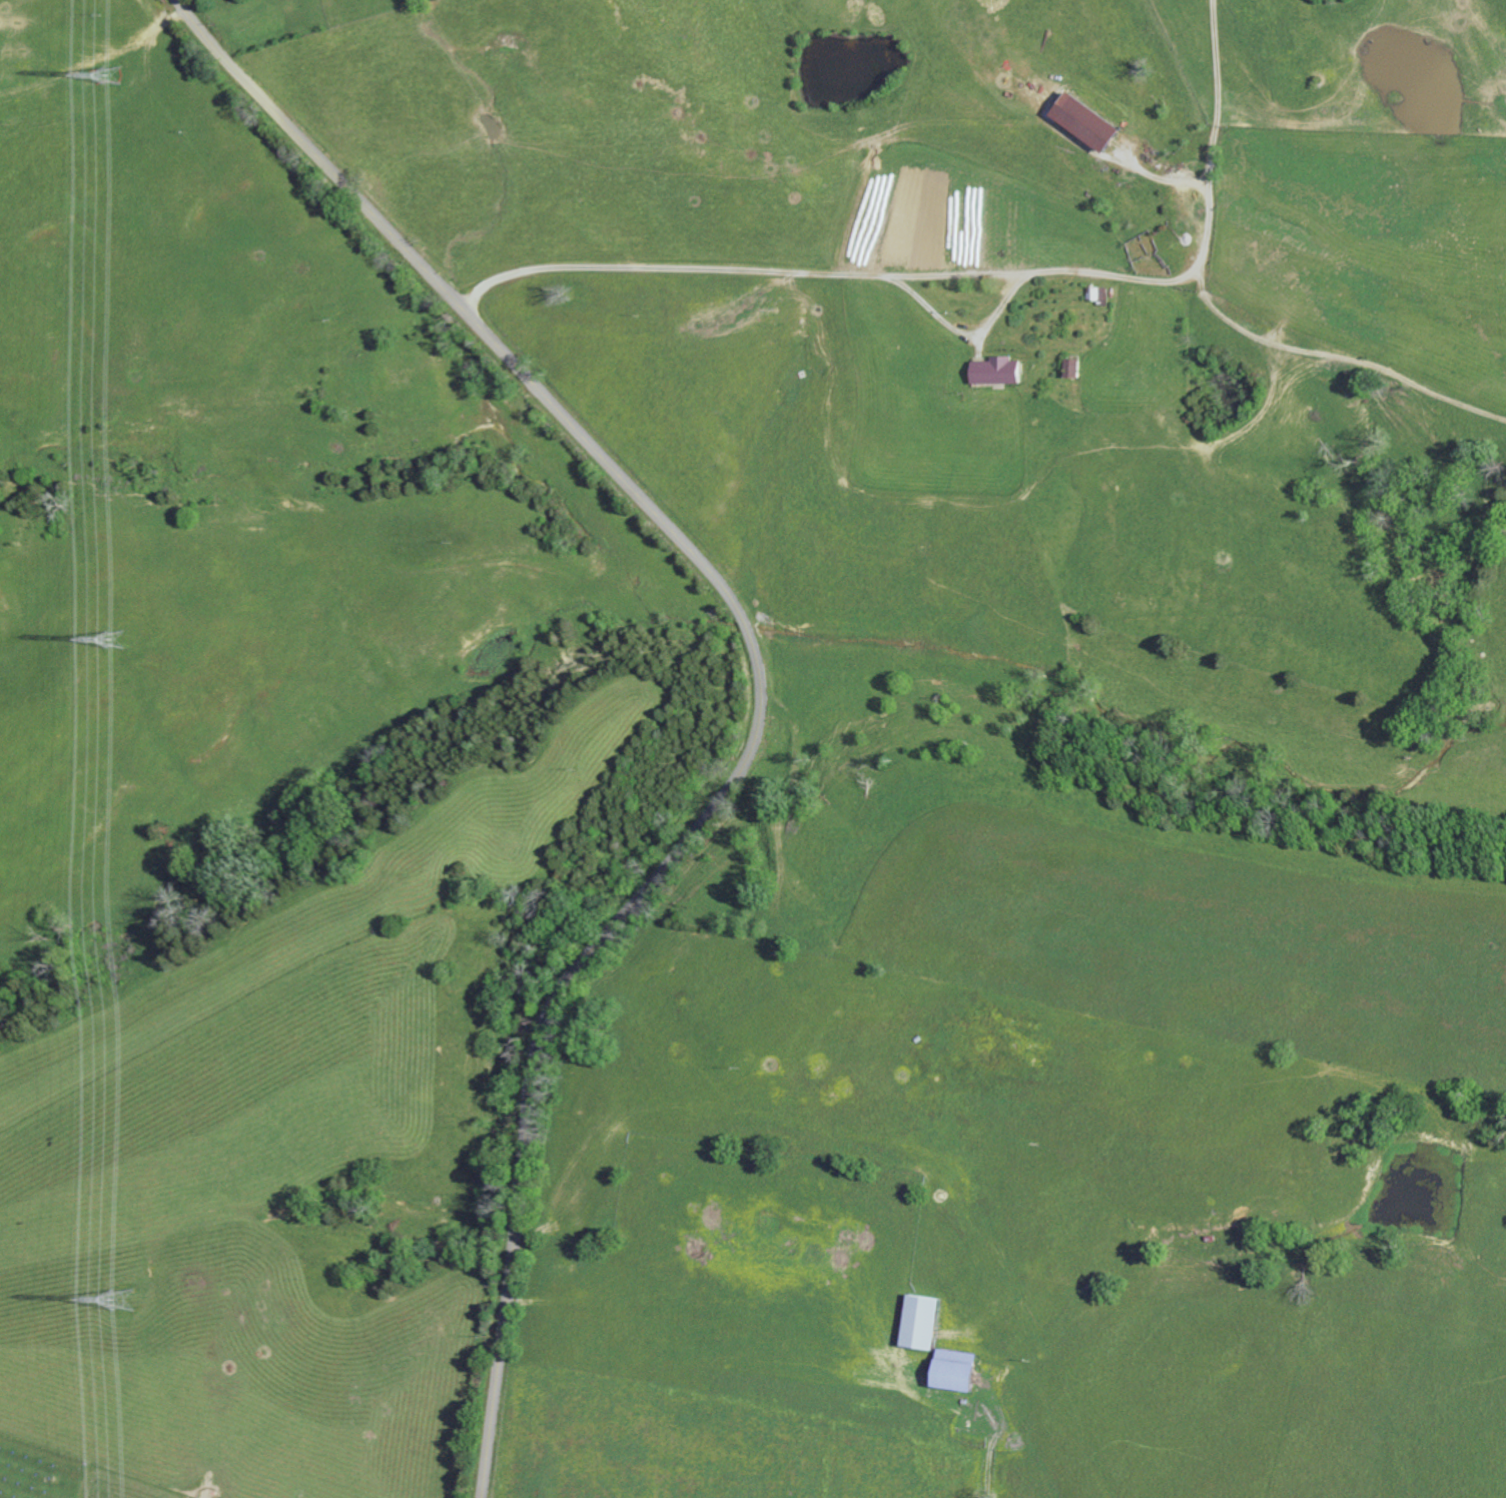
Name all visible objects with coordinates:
power tower: (105, 76)
building: (1090, 123)
road: (963, 272)
building: (1075, 369)
building: (1000, 372)
power tower: (111, 638)
road: (760, 675)
power tower: (122, 1301)
building: (921, 1322)
building: (955, 1370)

